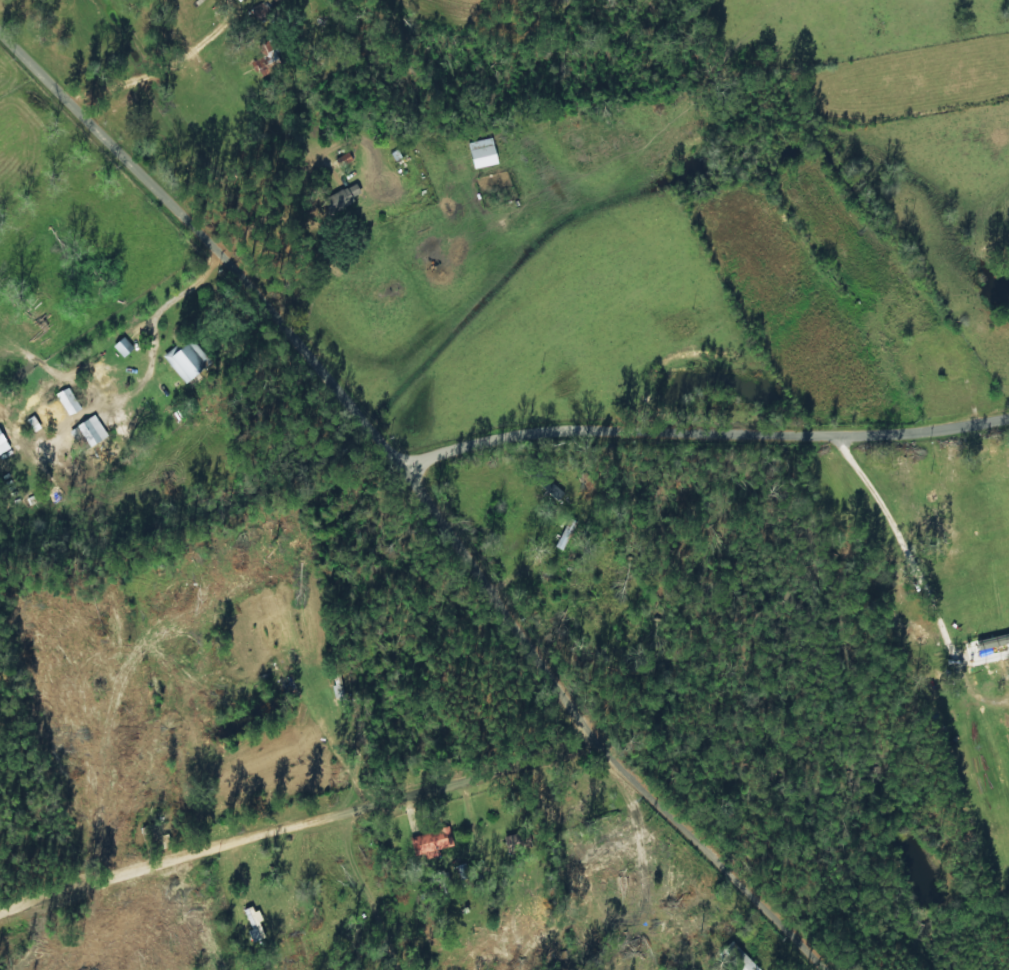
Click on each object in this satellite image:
building: (263, 7)
building: (269, 62)
building: (483, 152)
building: (344, 196)
building: (124, 346)
building: (185, 361)
building: (68, 401)
building: (88, 433)
road: (418, 472)
building: (988, 649)
road: (552, 742)
road: (347, 796)
building: (432, 841)
building: (254, 924)

